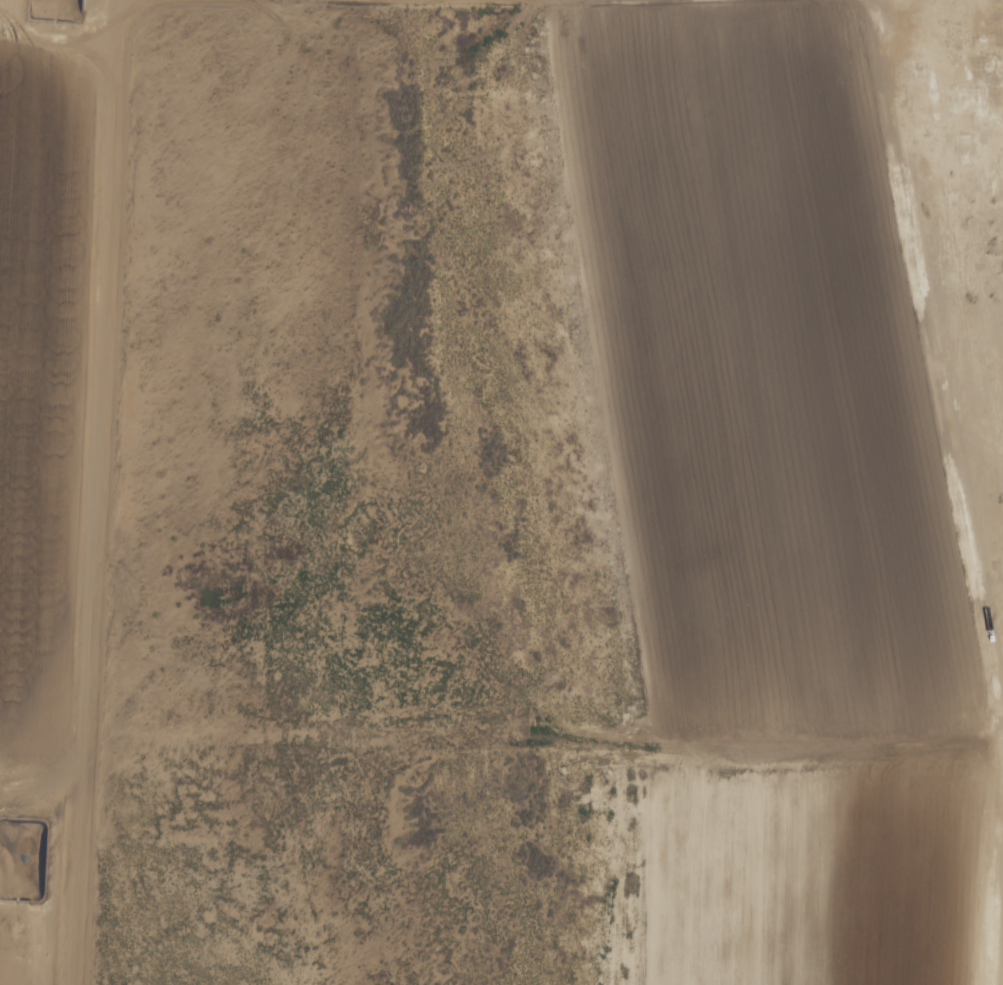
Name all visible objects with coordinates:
landfill: (41, 370)
landfill: (767, 370)
landfill: (800, 874)
landfill: (13, 962)

